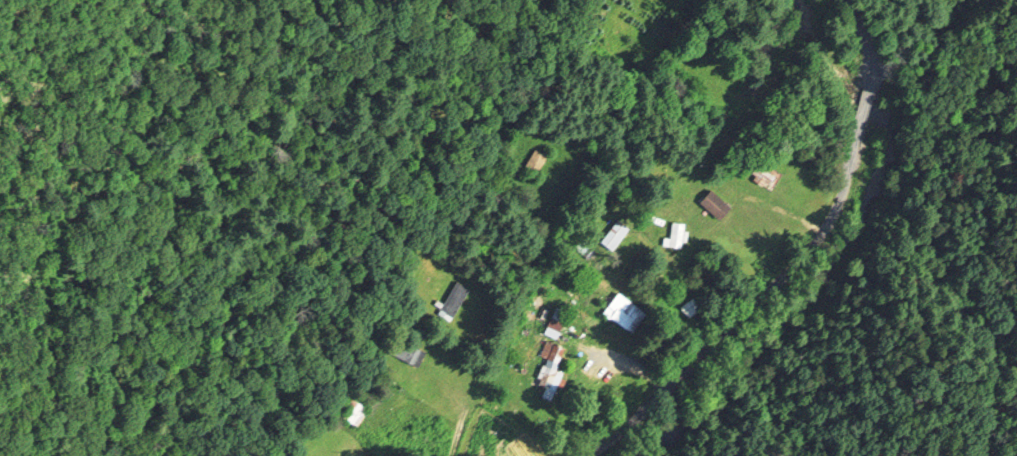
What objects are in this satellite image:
road: (867, 41)
road: (864, 99)
building: (535, 157)
building: (763, 173)
building: (718, 203)
building: (614, 232)
building: (677, 232)
building: (451, 302)
road: (747, 306)
building: (624, 311)
building: (406, 349)
building: (551, 371)
road: (482, 392)
building: (351, 409)
building: (509, 442)

